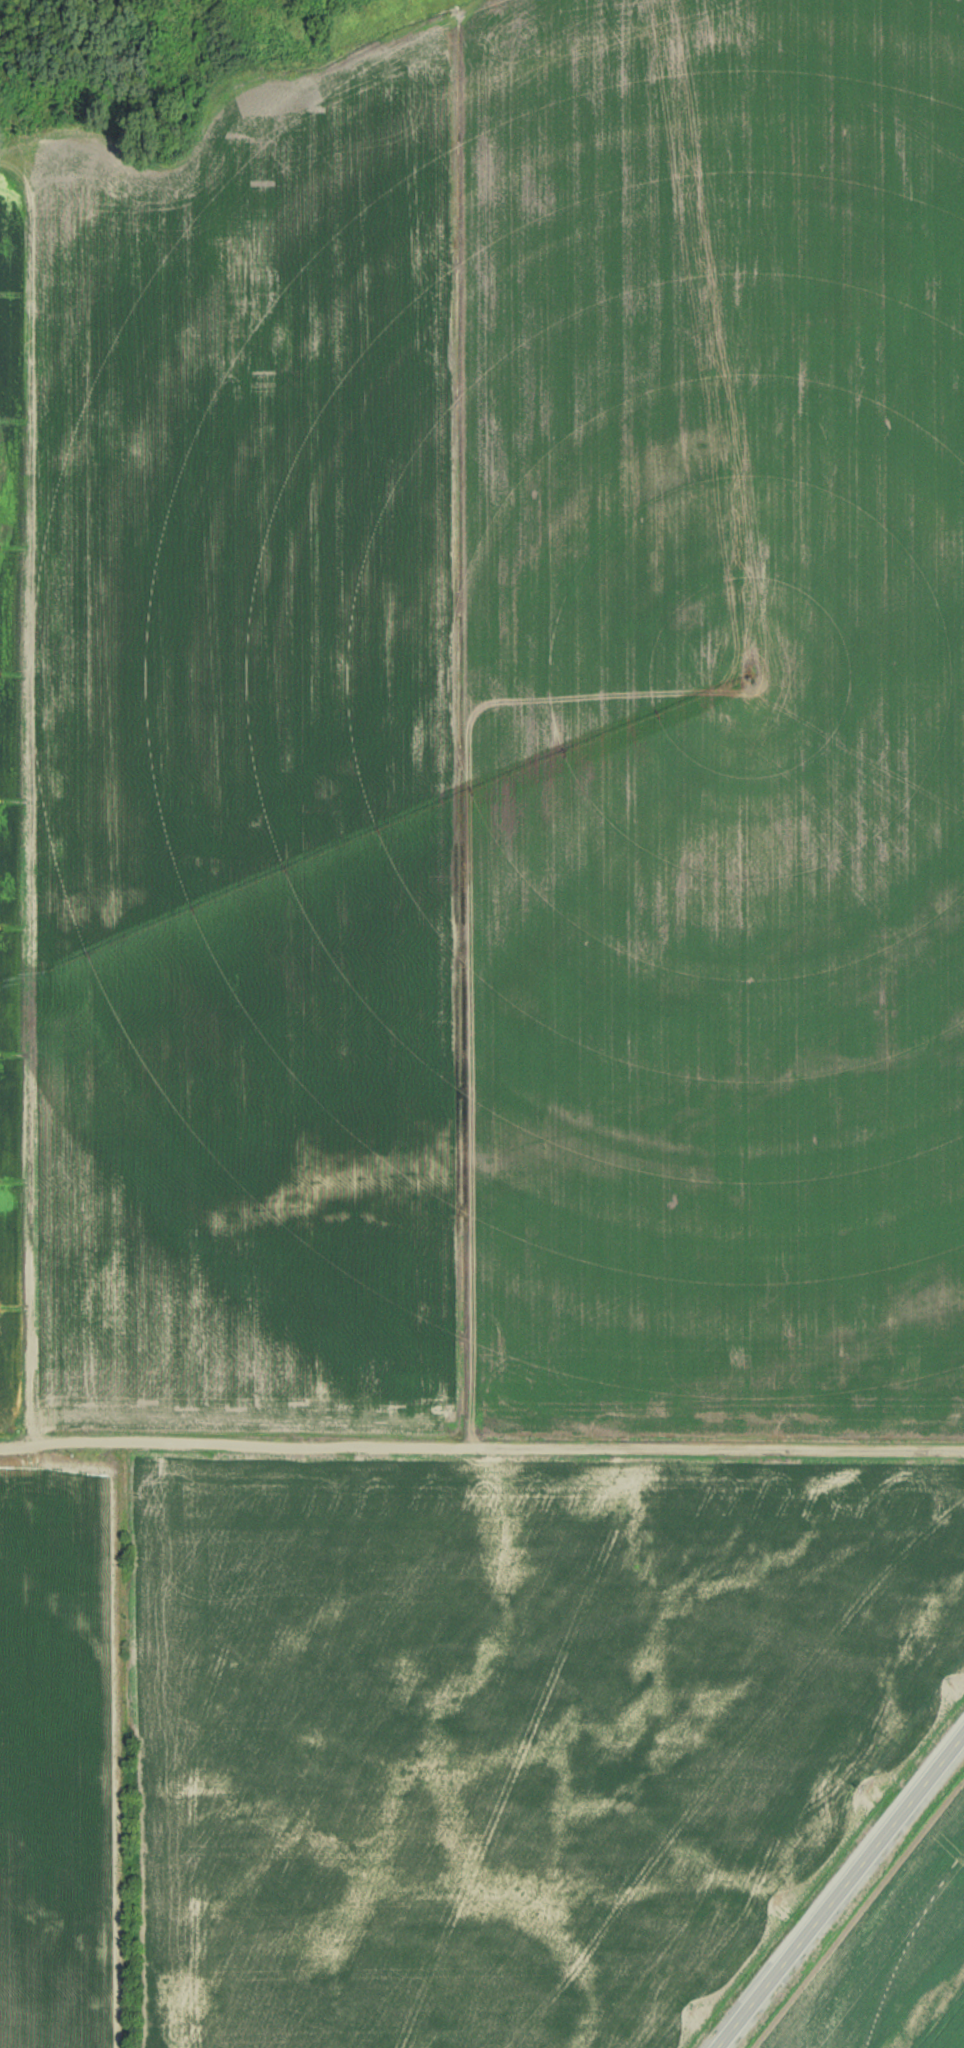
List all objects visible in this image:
road: (841, 1892)

